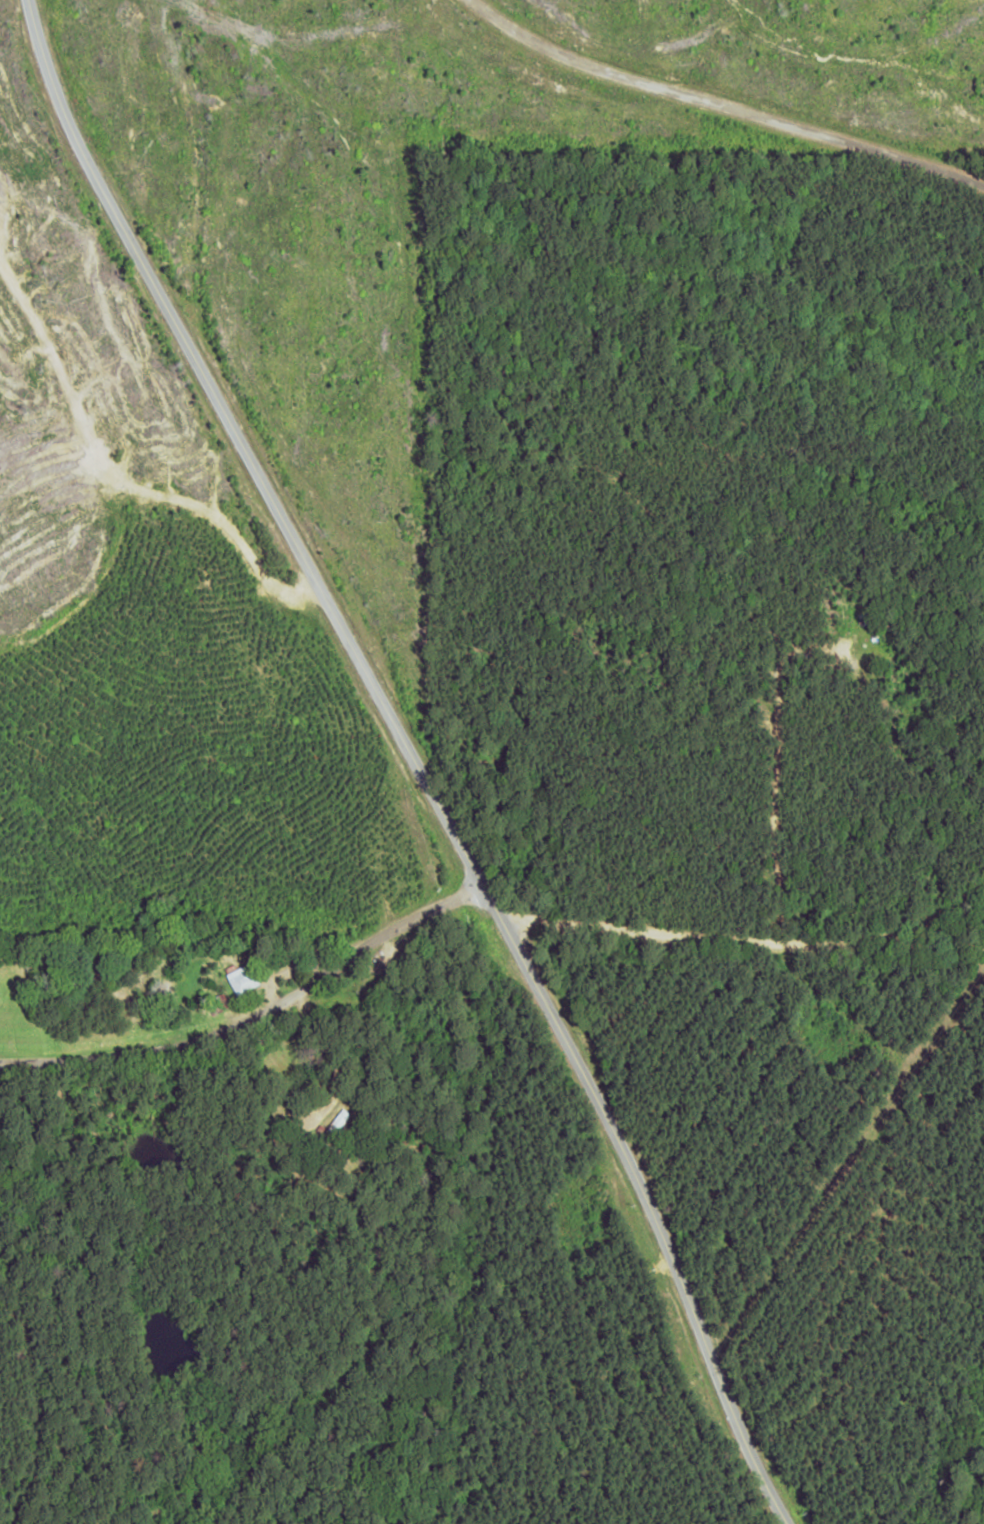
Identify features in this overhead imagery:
road: (712, 107)
road: (239, 461)
road: (472, 918)
road: (643, 1211)

